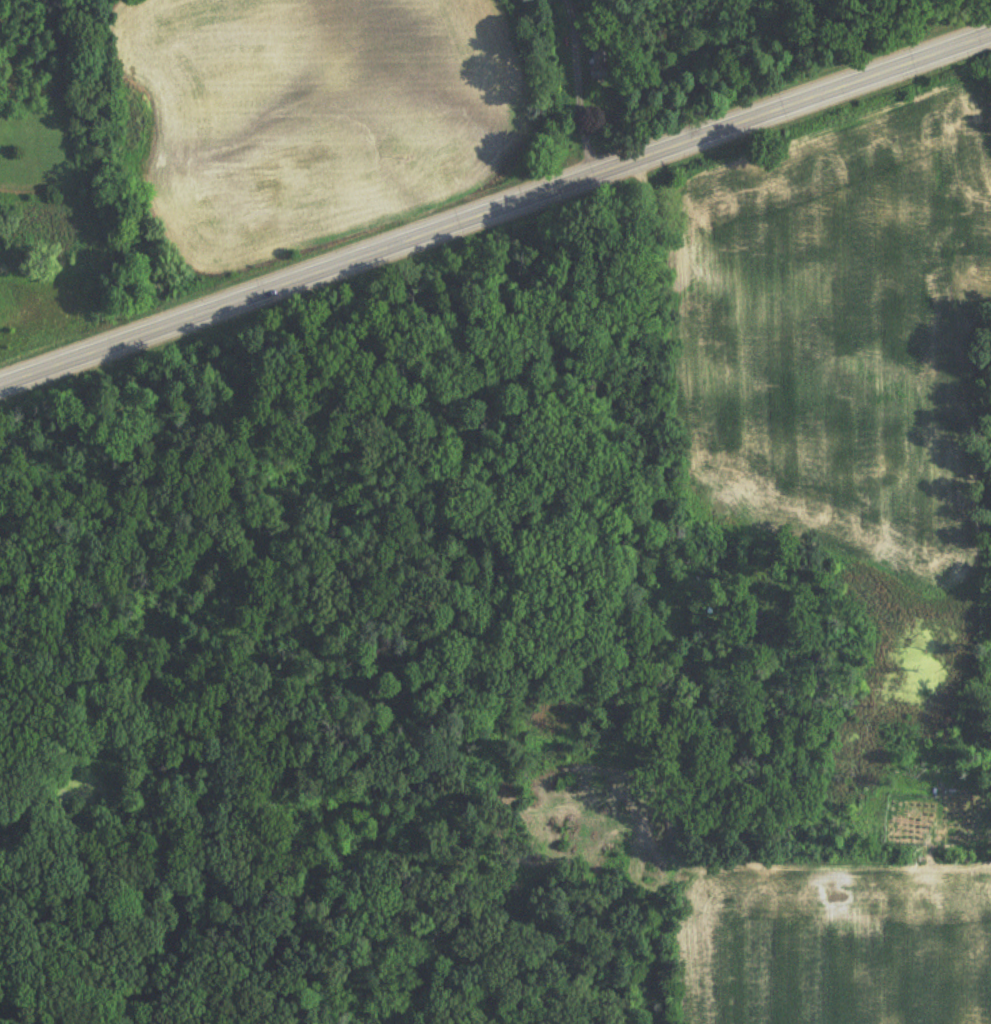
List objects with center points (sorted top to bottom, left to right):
building: (603, 61)
road: (577, 77)
road: (812, 77)
road: (317, 255)

